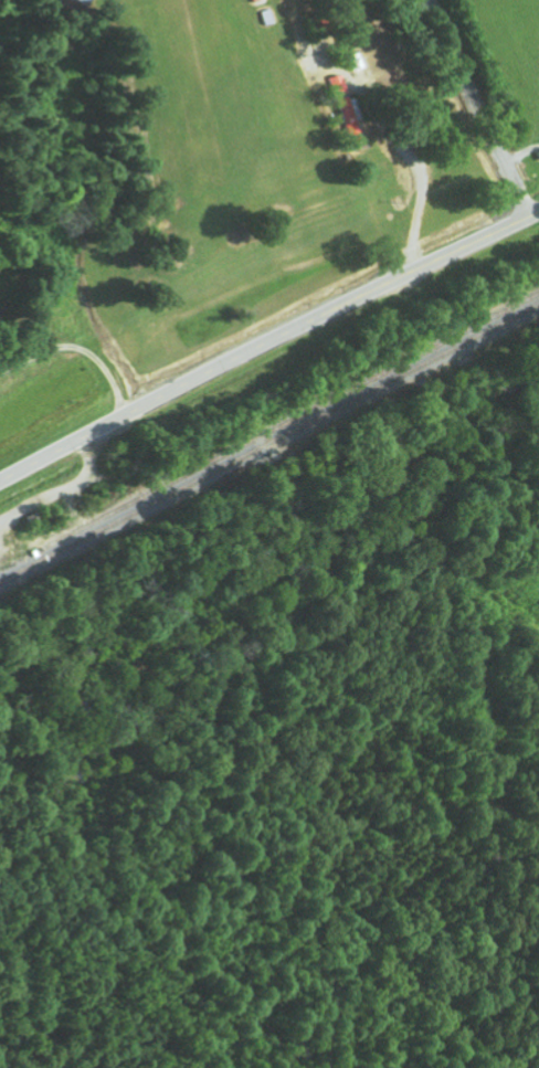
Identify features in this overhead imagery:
building: (83, 1)
road: (483, 108)
building: (345, 110)
road: (267, 342)
railway: (268, 443)

